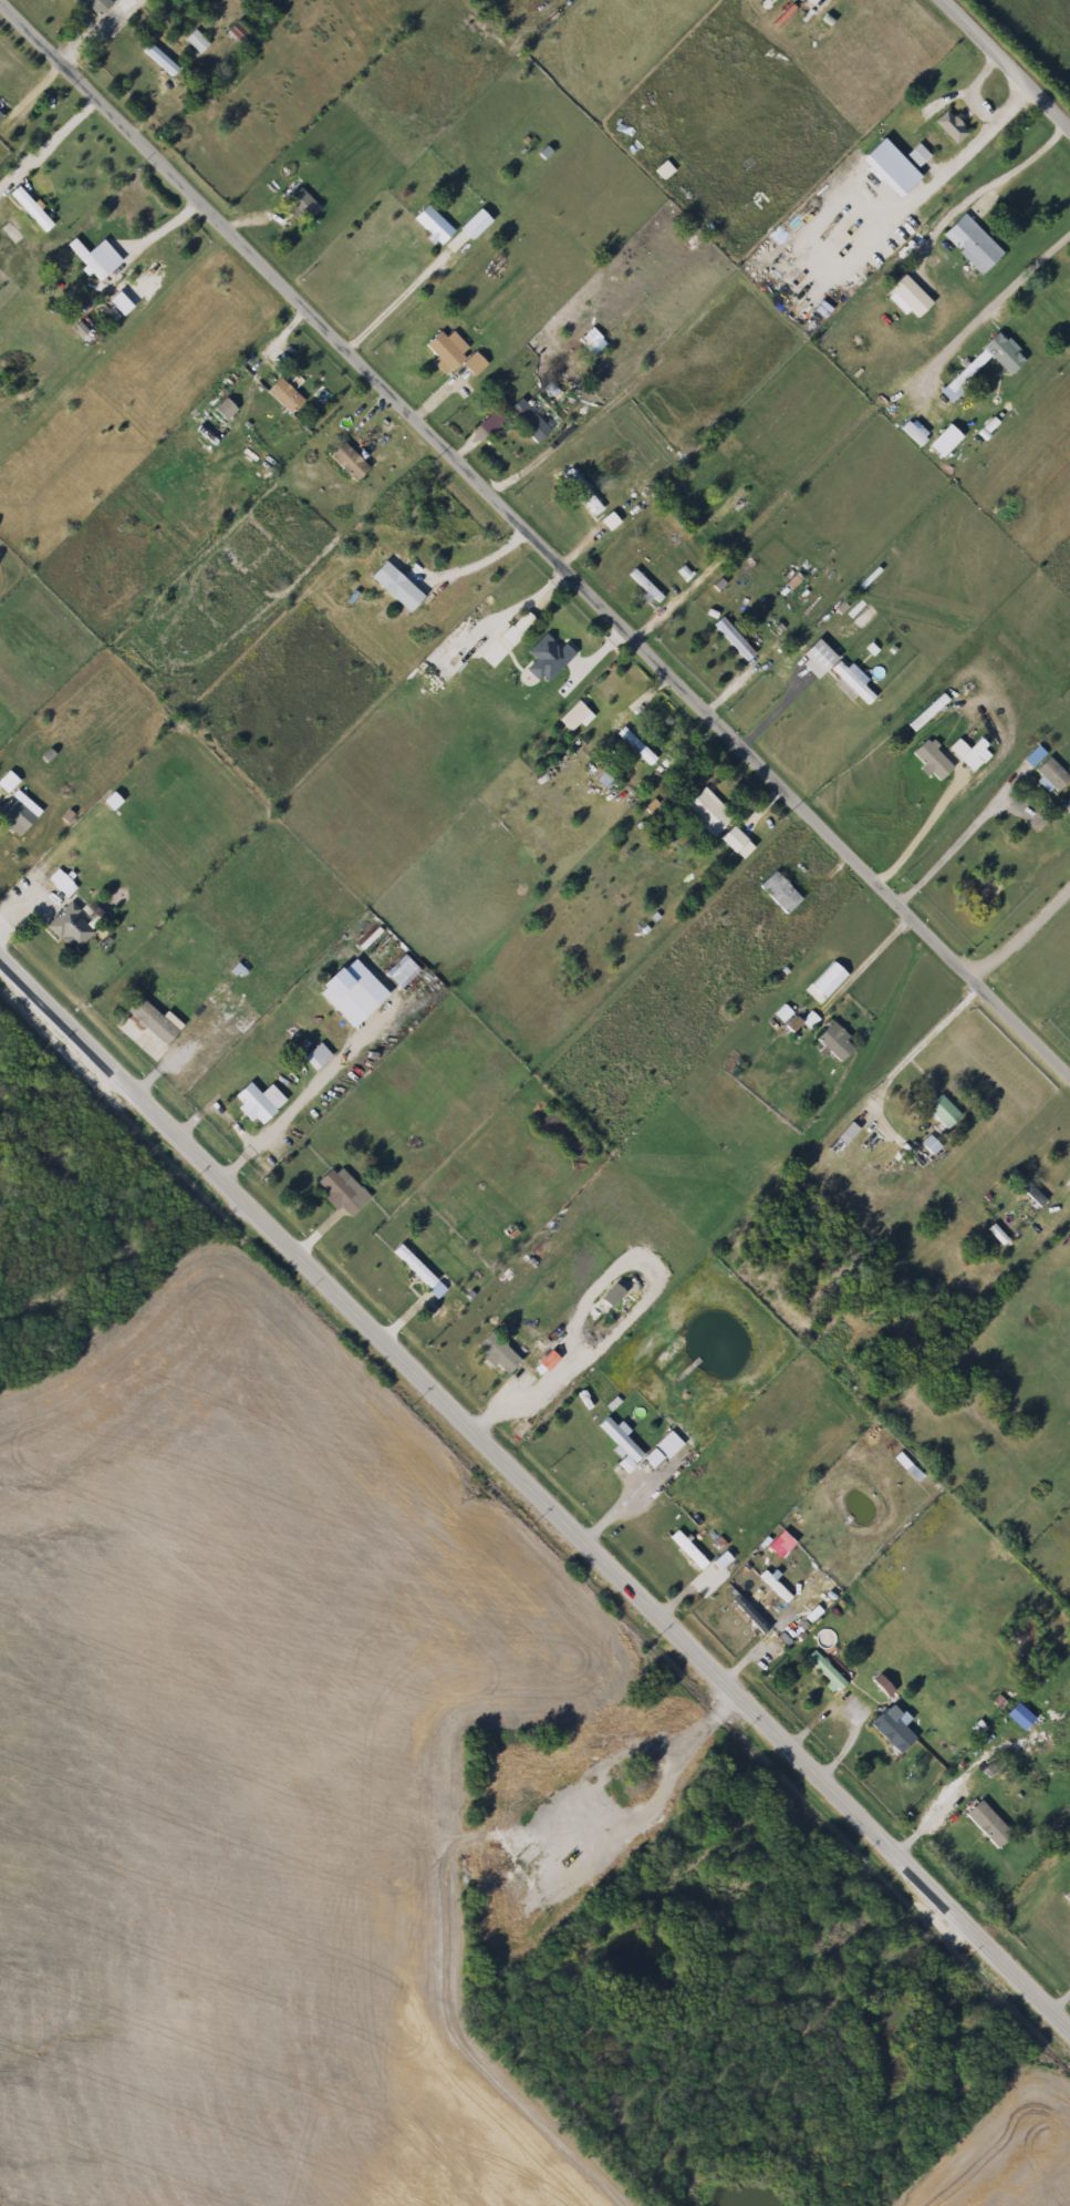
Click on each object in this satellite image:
road: (824, 0)
building: (811, 2)
building: (104, 6)
building: (243, 34)
building: (201, 42)
building: (165, 61)
road: (49, 63)
road: (1004, 65)
road: (977, 90)
road: (158, 105)
building: (3, 117)
building: (922, 120)
road: (51, 138)
building: (917, 157)
road: (1017, 165)
road: (944, 171)
building: (661, 172)
building: (300, 202)
road: (252, 212)
road: (157, 226)
building: (970, 246)
building: (92, 260)
building: (73, 281)
road: (401, 285)
building: (134, 293)
building: (907, 298)
road: (993, 299)
building: (450, 353)
building: (983, 367)
road: (435, 395)
building: (283, 398)
building: (225, 411)
building: (526, 422)
road: (476, 427)
building: (943, 443)
building: (346, 463)
road: (531, 467)
building: (580, 493)
building: (726, 507)
road: (581, 533)
road: (536, 536)
road: (477, 566)
building: (643, 587)
road: (539, 594)
road: (652, 611)
building: (729, 640)
building: (502, 660)
building: (548, 661)
building: (843, 679)
road: (728, 681)
road: (775, 707)
building: (634, 740)
building: (978, 755)
building: (929, 762)
building: (1048, 775)
road: (762, 800)
building: (1066, 806)
building: (706, 813)
building: (19, 816)
road: (923, 821)
road: (947, 844)
building: (735, 845)
building: (67, 886)
building: (779, 894)
road: (1018, 921)
building: (75, 927)
road: (866, 951)
building: (340, 983)
building: (156, 1020)
road: (1055, 1030)
building: (835, 1044)
road: (900, 1060)
road: (303, 1100)
building: (258, 1104)
building: (943, 1113)
building: (931, 1147)
building: (347, 1192)
road: (1063, 1194)
road: (313, 1230)
building: (419, 1272)
road: (1062, 1317)
road: (401, 1318)
building: (499, 1354)
road: (494, 1393)
building: (622, 1444)
building: (658, 1456)
road: (533, 1489)
building: (689, 1552)
road: (675, 1594)
building: (751, 1616)
building: (830, 1671)
road: (814, 1712)
road: (696, 1724)
building: (892, 1733)
road: (935, 1811)
building: (988, 1825)
building: (1067, 1898)
road: (1058, 1991)

